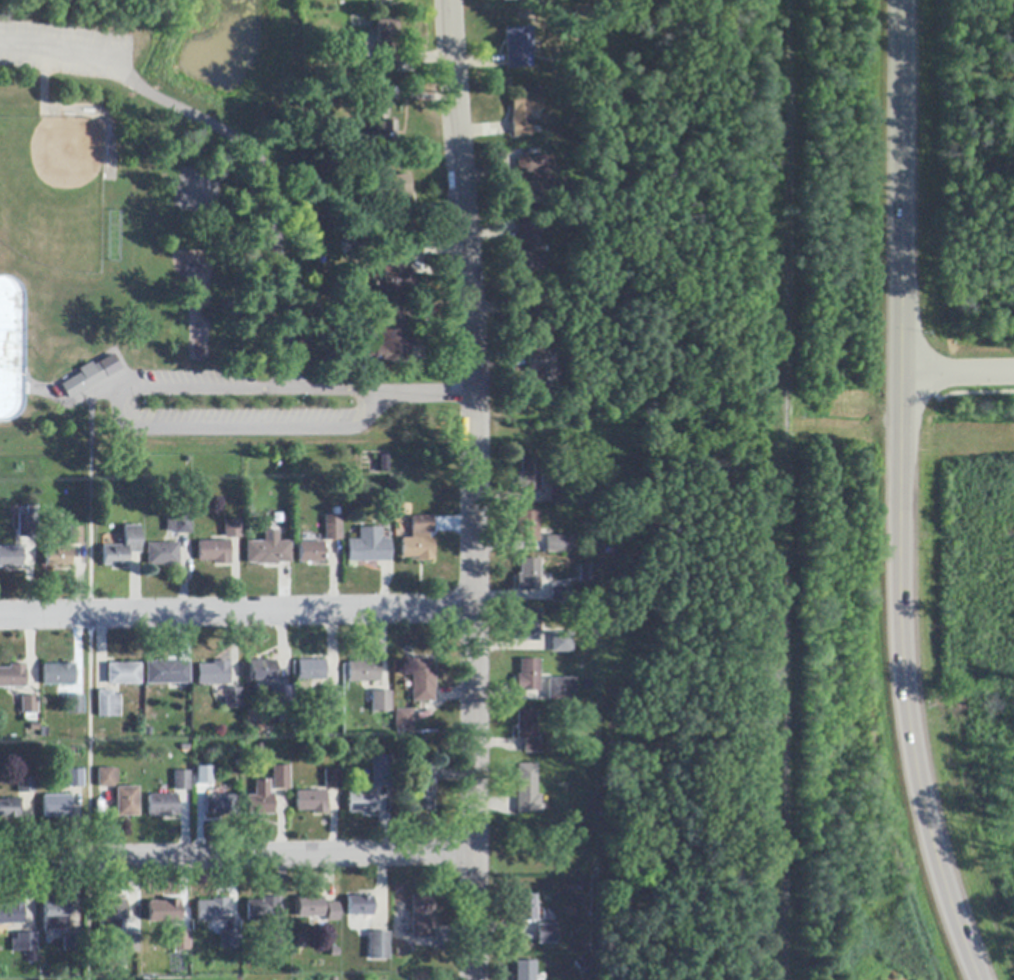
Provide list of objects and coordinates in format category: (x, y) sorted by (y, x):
building: (379, 0)
building: (511, 0)
building: (386, 45)
building: (518, 48)
parking lot: (66, 49)
building: (524, 110)
building: (381, 128)
road: (235, 137)
building: (531, 178)
building: (399, 199)
park: (165, 239)
building: (530, 246)
building: (393, 275)
building: (536, 316)
building: (386, 340)
building: (544, 368)
road: (957, 373)
parking lot: (195, 379)
building: (84, 380)
road: (145, 389)
street lamp: (345, 402)
street lamp: (218, 403)
parking lot: (240, 418)
building: (383, 465)
building: (528, 475)
road: (474, 489)
railway: (772, 489)
railway: (784, 490)
building: (559, 493)
road: (901, 495)
building: (27, 523)
building: (178, 525)
building: (527, 527)
building: (333, 528)
building: (232, 529)
building: (419, 534)
building: (75, 536)
building: (561, 544)
building: (368, 547)
building: (122, 548)
building: (268, 550)
building: (214, 552)
building: (310, 552)
building: (162, 554)
building: (58, 557)
building: (11, 558)
building: (586, 574)
building: (528, 575)
building: (560, 594)
road: (238, 613)
building: (528, 626)
building: (562, 643)
building: (311, 670)
building: (262, 671)
building: (364, 671)
building: (166, 673)
building: (123, 674)
building: (213, 674)
building: (59, 675)
building: (528, 676)
building: (13, 677)
building: (422, 680)
building: (561, 690)
building: (232, 699)
building: (330, 700)
building: (280, 702)
building: (380, 702)
building: (74, 705)
building: (108, 705)
building: (29, 708)
building: (402, 720)
building: (526, 724)
building: (531, 746)
building: (380, 771)
building: (107, 777)
building: (280, 777)
building: (74, 778)
building: (199, 778)
building: (331, 780)
building: (181, 781)
building: (26, 786)
building: (422, 789)
building: (526, 790)
building: (259, 799)
building: (127, 802)
building: (311, 802)
building: (361, 802)
building: (220, 805)
building: (162, 806)
building: (56, 807)
building: (9, 808)
road: (237, 857)
building: (359, 906)
building: (316, 908)
building: (525, 909)
building: (262, 910)
building: (163, 911)
building: (212, 911)
building: (11, 914)
building: (111, 914)
building: (56, 916)
building: (422, 916)
building: (546, 934)
building: (231, 939)
building: (180, 941)
building: (73, 942)
building: (281, 942)
building: (23, 943)
building: (128, 946)
building: (377, 946)
building: (525, 970)

